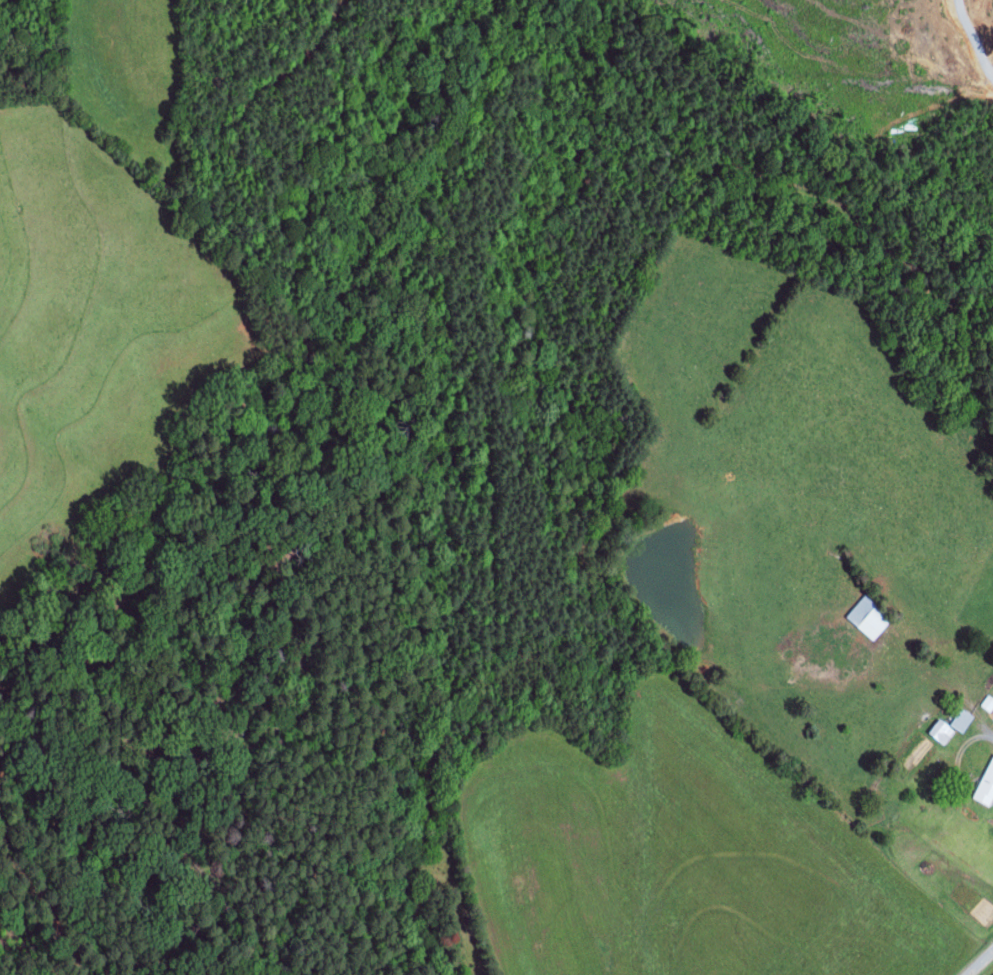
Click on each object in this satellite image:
road: (974, 37)
building: (869, 617)
building: (988, 703)
building: (961, 720)
building: (941, 731)
building: (986, 787)
road: (979, 961)

